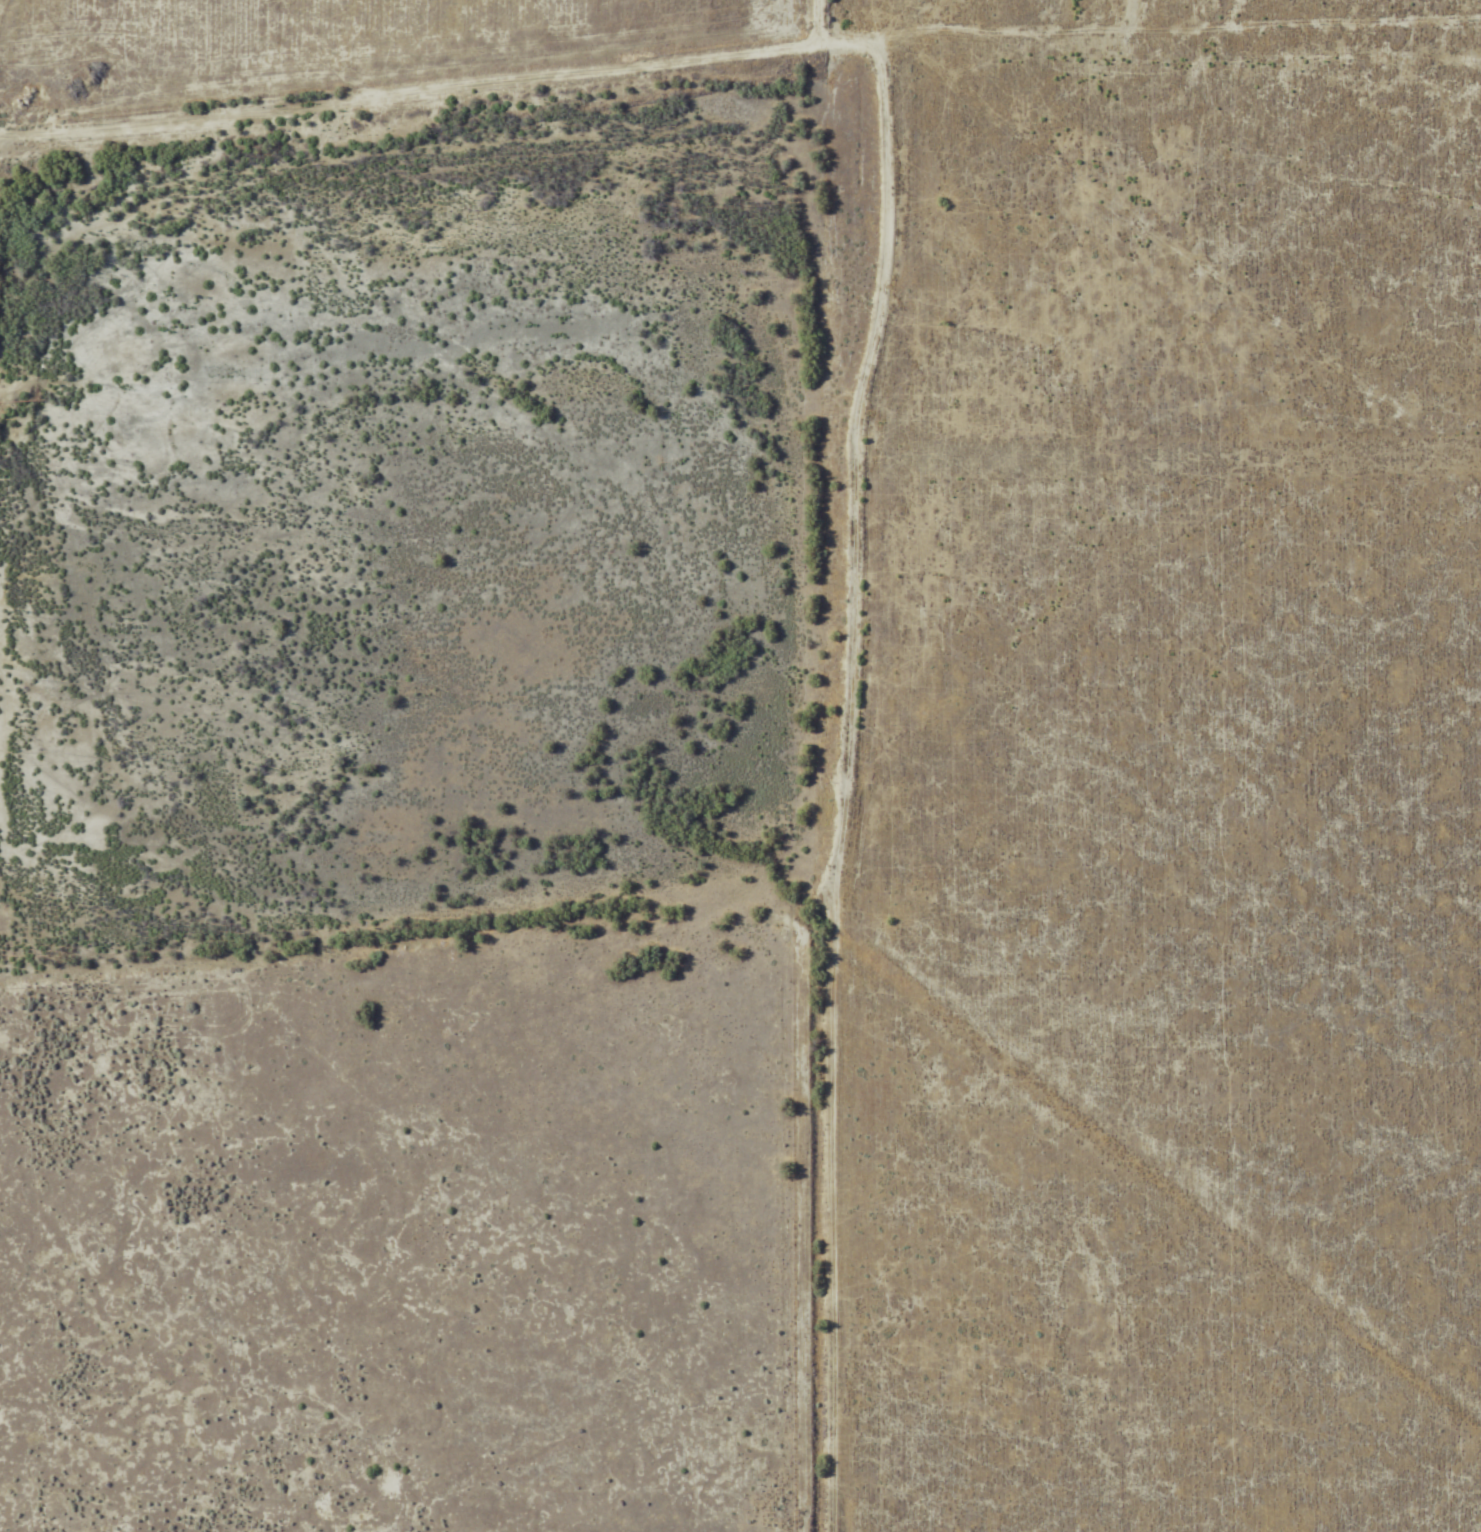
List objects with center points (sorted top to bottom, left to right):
road: (793, 22)
road: (848, 363)

